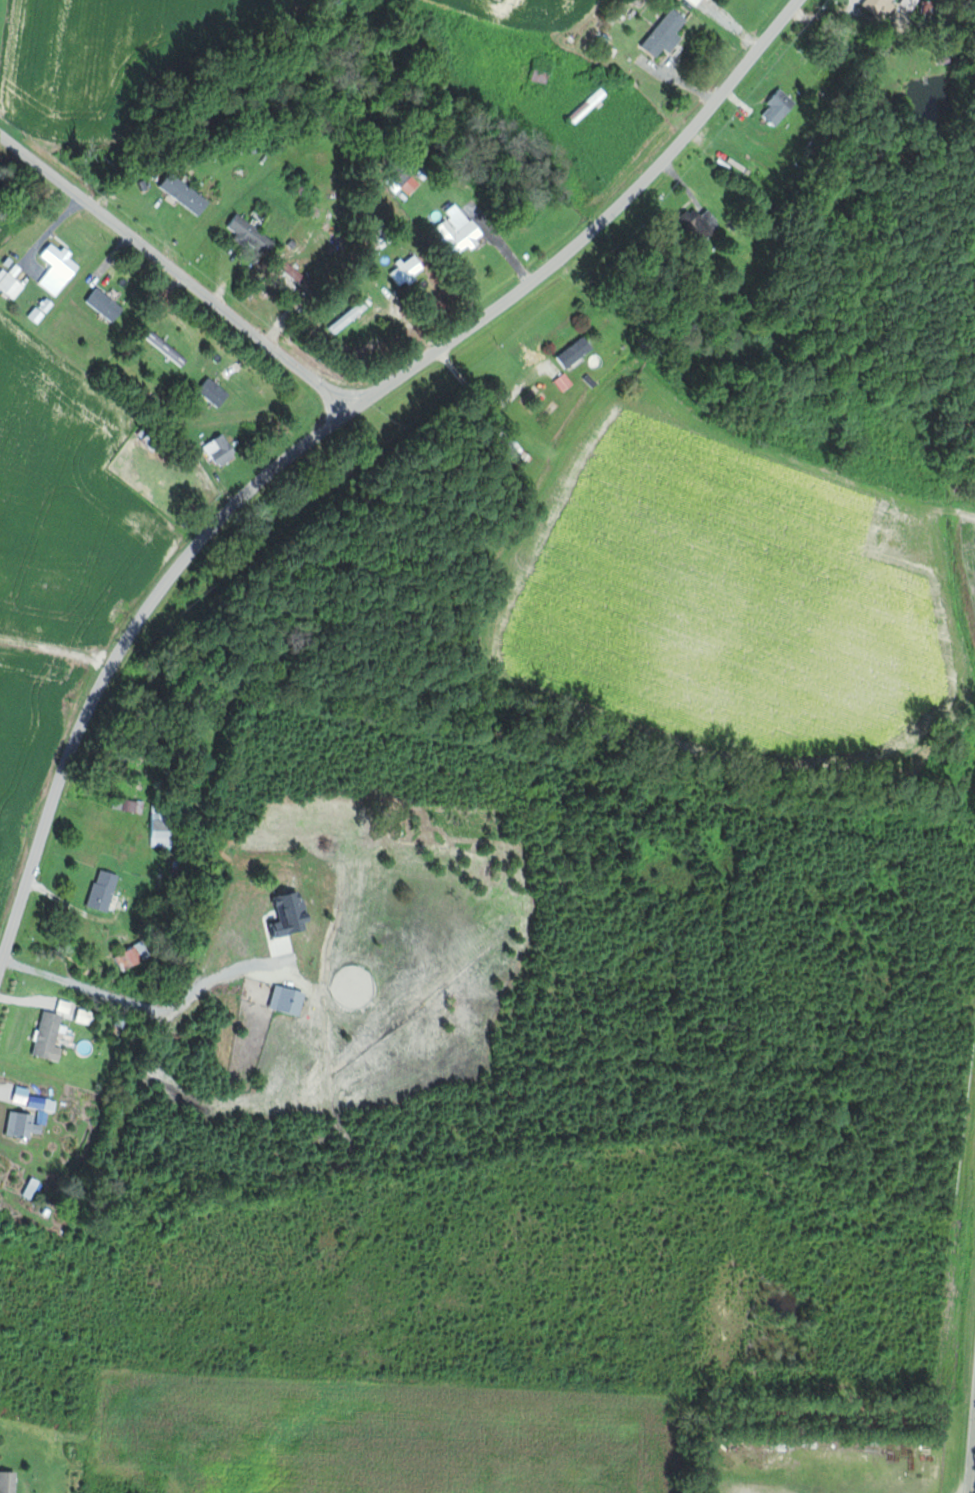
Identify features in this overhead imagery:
building: (911, 3)
building: (880, 6)
building: (668, 34)
building: (590, 106)
building: (781, 108)
building: (186, 194)
building: (702, 225)
building: (462, 230)
building: (250, 235)
building: (59, 268)
building: (408, 270)
road: (176, 274)
building: (299, 276)
building: (10, 284)
building: (106, 304)
building: (576, 352)
building: (215, 392)
road: (326, 433)
building: (513, 449)
building: (222, 450)
building: (165, 825)
building: (105, 890)
building: (50, 1036)
building: (44, 1103)
building: (25, 1125)
building: (143, 1474)
building: (9, 1482)
road: (974, 1488)

